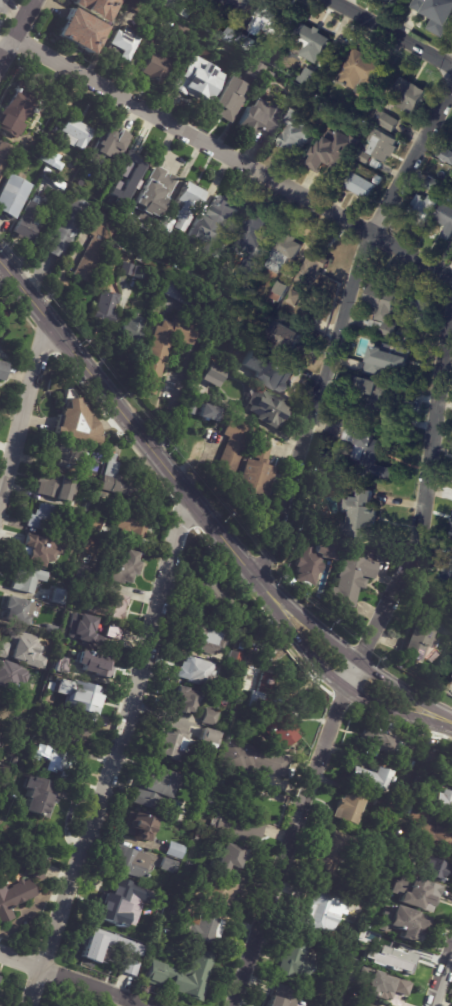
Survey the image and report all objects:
building: (169, 3)
building: (136, 5)
building: (229, 6)
building: (99, 7)
road: (13, 8)
building: (439, 17)
building: (274, 21)
road: (17, 30)
building: (81, 30)
building: (181, 32)
road: (391, 33)
building: (238, 39)
building: (124, 42)
building: (311, 42)
road: (3, 50)
building: (157, 67)
building: (255, 70)
building: (360, 74)
building: (308, 78)
building: (198, 79)
building: (407, 95)
building: (229, 99)
building: (325, 107)
building: (18, 110)
building: (259, 118)
building: (386, 118)
building: (294, 132)
building: (76, 134)
building: (382, 145)
building: (105, 150)
building: (335, 151)
building: (447, 153)
road: (233, 155)
building: (5, 156)
building: (50, 157)
building: (364, 157)
building: (135, 169)
building: (48, 178)
building: (378, 180)
building: (432, 184)
building: (360, 185)
building: (95, 189)
building: (154, 192)
building: (12, 195)
building: (107, 196)
building: (187, 205)
building: (424, 210)
building: (220, 219)
building: (29, 221)
building: (447, 222)
building: (68, 225)
building: (164, 225)
building: (255, 242)
building: (95, 247)
building: (283, 253)
building: (132, 255)
building: (139, 258)
building: (126, 269)
building: (313, 271)
building: (277, 294)
building: (181, 295)
building: (294, 298)
building: (106, 307)
building: (383, 310)
building: (3, 312)
building: (422, 313)
road: (340, 324)
building: (134, 327)
building: (370, 338)
building: (403, 338)
building: (286, 341)
building: (0, 348)
building: (161, 352)
building: (389, 359)
building: (3, 368)
building: (268, 372)
building: (214, 376)
building: (378, 399)
building: (192, 406)
building: (268, 407)
road: (25, 410)
building: (210, 414)
road: (171, 415)
building: (76, 422)
building: (234, 448)
building: (66, 452)
building: (367, 455)
building: (257, 475)
building: (336, 476)
building: (120, 479)
building: (57, 485)
building: (88, 506)
building: (359, 516)
building: (55, 517)
road: (208, 517)
building: (132, 522)
building: (451, 537)
building: (40, 550)
building: (315, 563)
building: (123, 566)
building: (85, 571)
building: (447, 575)
building: (30, 579)
building: (353, 580)
building: (81, 589)
building: (211, 594)
building: (60, 595)
building: (114, 603)
building: (20, 610)
building: (197, 611)
building: (72, 620)
building: (53, 631)
building: (114, 634)
building: (426, 635)
building: (204, 639)
building: (12, 640)
building: (90, 648)
building: (235, 657)
road: (357, 660)
building: (44, 661)
building: (94, 664)
building: (198, 671)
building: (11, 675)
building: (451, 677)
building: (227, 690)
building: (82, 695)
building: (1, 698)
building: (183, 699)
building: (0, 710)
building: (273, 713)
building: (212, 716)
building: (49, 719)
building: (22, 726)
building: (0, 730)
building: (79, 735)
building: (211, 735)
building: (177, 744)
building: (389, 744)
road: (111, 753)
building: (431, 756)
building: (254, 759)
building: (15, 760)
building: (55, 761)
building: (449, 765)
building: (7, 772)
building: (372, 777)
building: (218, 780)
building: (434, 785)
building: (156, 789)
building: (41, 797)
building: (389, 803)
building: (445, 803)
building: (351, 807)
building: (140, 826)
building: (235, 828)
building: (430, 829)
building: (175, 850)
building: (417, 850)
building: (335, 855)
building: (230, 857)
building: (132, 862)
building: (169, 865)
building: (37, 867)
building: (436, 869)
building: (215, 889)
building: (417, 892)
building: (14, 897)
building: (116, 905)
building: (176, 911)
building: (321, 913)
building: (406, 923)
building: (205, 929)
building: (373, 938)
building: (101, 949)
building: (134, 951)
building: (399, 960)
building: (295, 961)
building: (129, 967)
building: (185, 976)
road: (71, 979)
building: (1, 981)
building: (358, 986)
road: (444, 986)
building: (395, 990)
building: (275, 1001)
building: (367, 1004)

